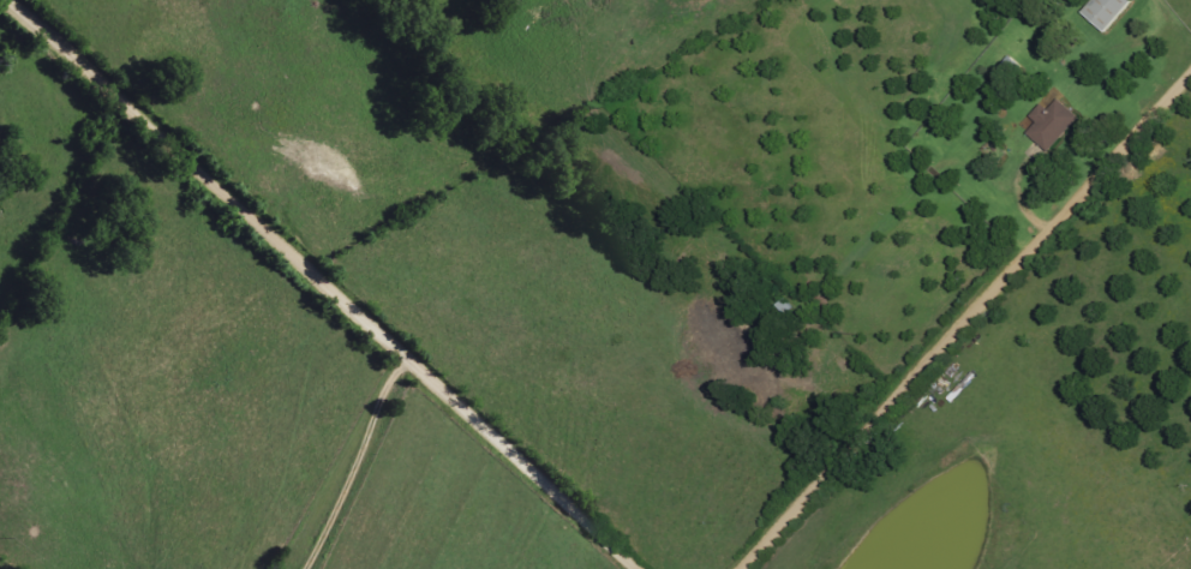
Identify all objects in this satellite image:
building: (1107, 11)
building: (1052, 124)
road: (329, 282)
road: (968, 322)

